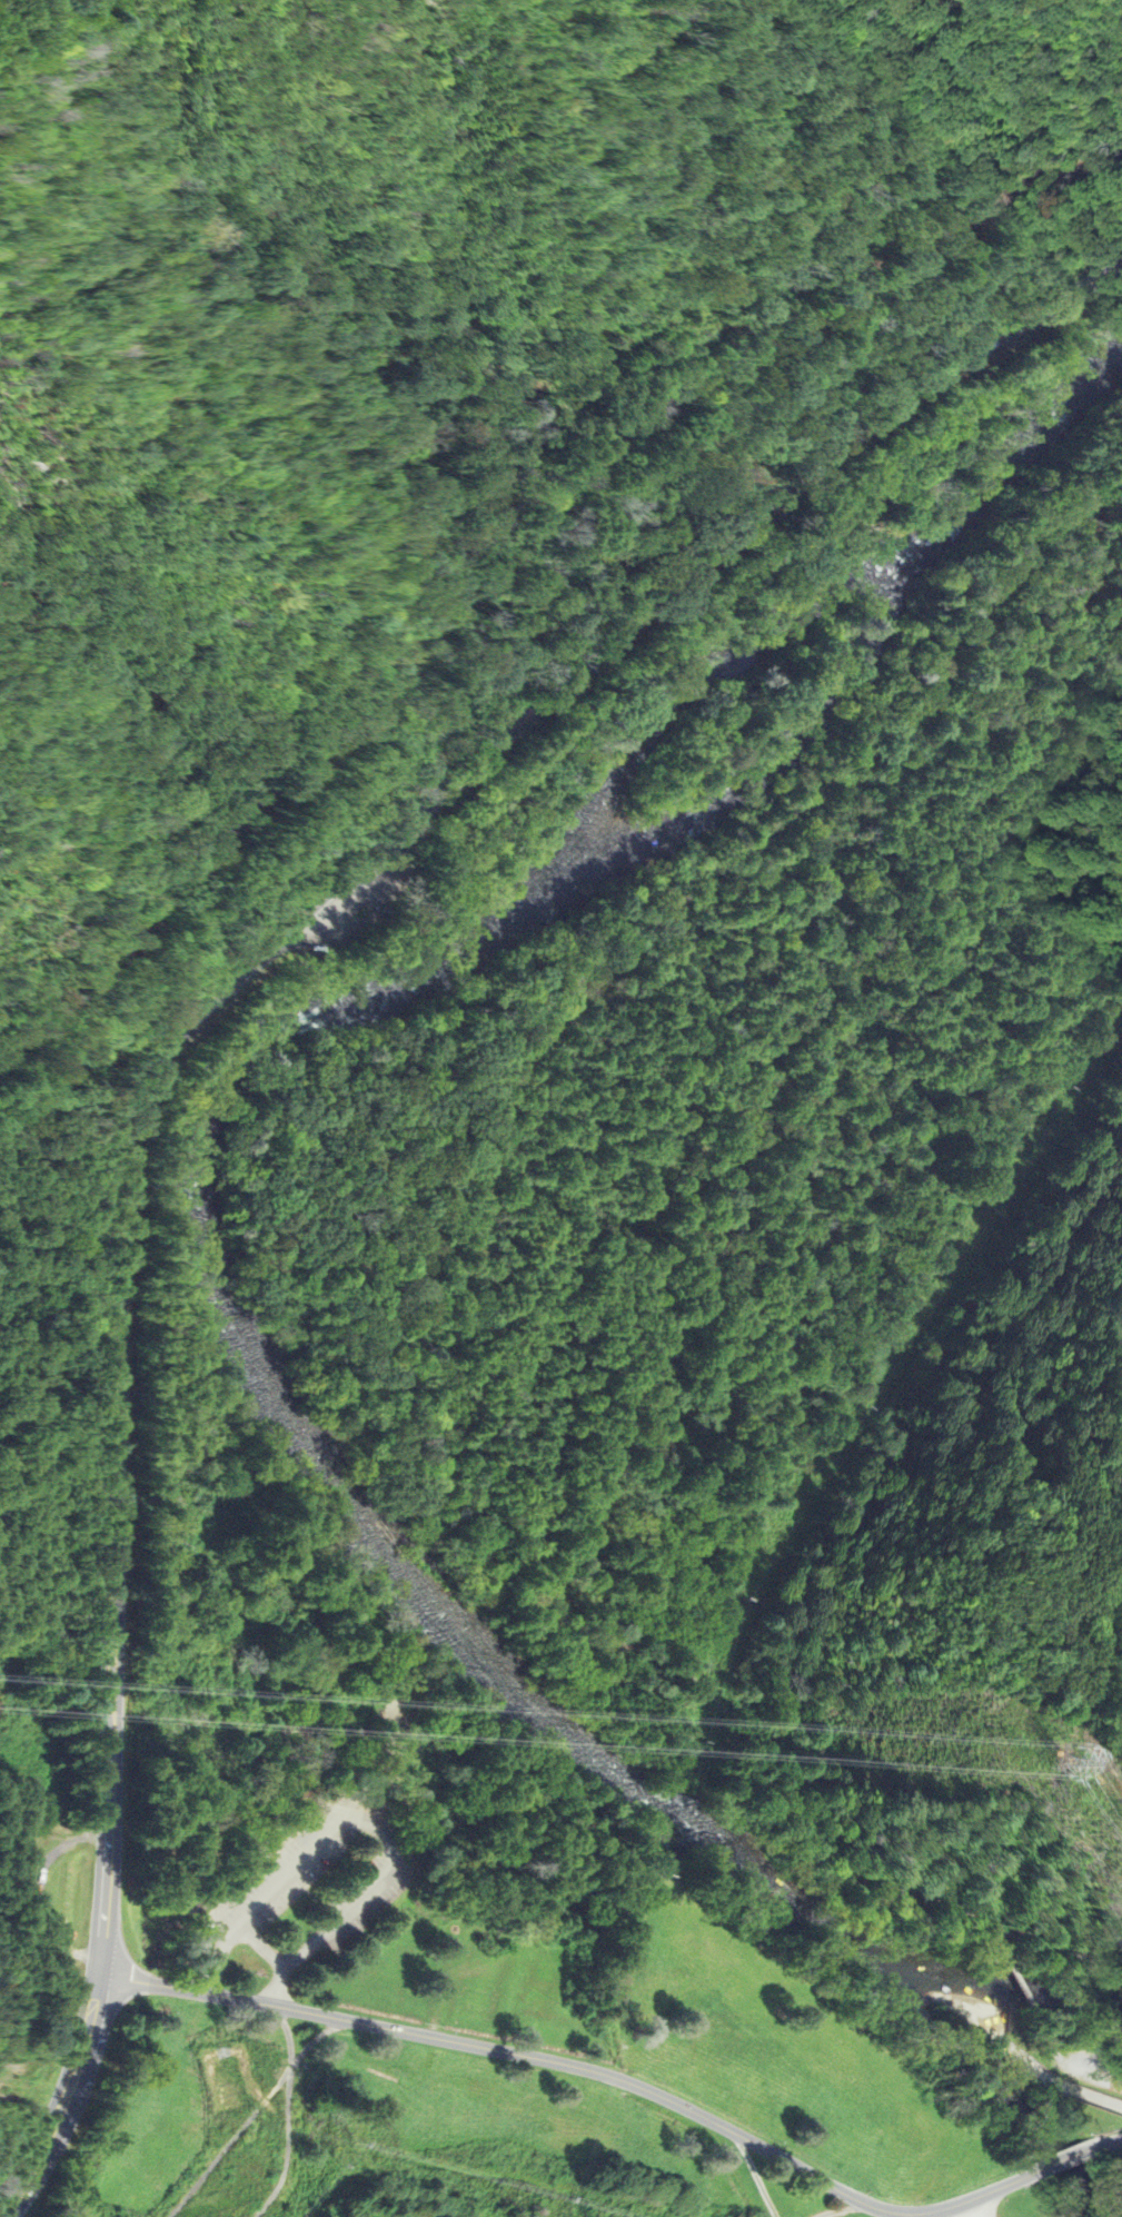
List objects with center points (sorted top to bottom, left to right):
railway: (845, 293)
road: (925, 377)
river: (1009, 465)
river: (708, 675)
railway: (297, 753)
road: (214, 996)
river: (195, 1158)
road: (523, 1196)
road: (381, 1762)
power tower: (1060, 1762)
road: (363, 1820)
road: (109, 1829)
building: (161, 1834)
road: (206, 1835)
road: (254, 1841)
building: (195, 1853)
river: (741, 1871)
parking lot: (281, 1873)
road: (298, 1882)
parking lot: (359, 1904)
road: (260, 1948)
road: (1055, 1949)
road: (1023, 1992)
road: (314, 2041)
road: (497, 2050)
road: (1075, 2066)
road: (1034, 2068)
road: (64, 2100)
road: (250, 2117)
road: (1113, 2141)
road: (1069, 2160)
road: (756, 2176)
road: (952, 2206)
road: (844, 2209)
road: (969, 2209)

